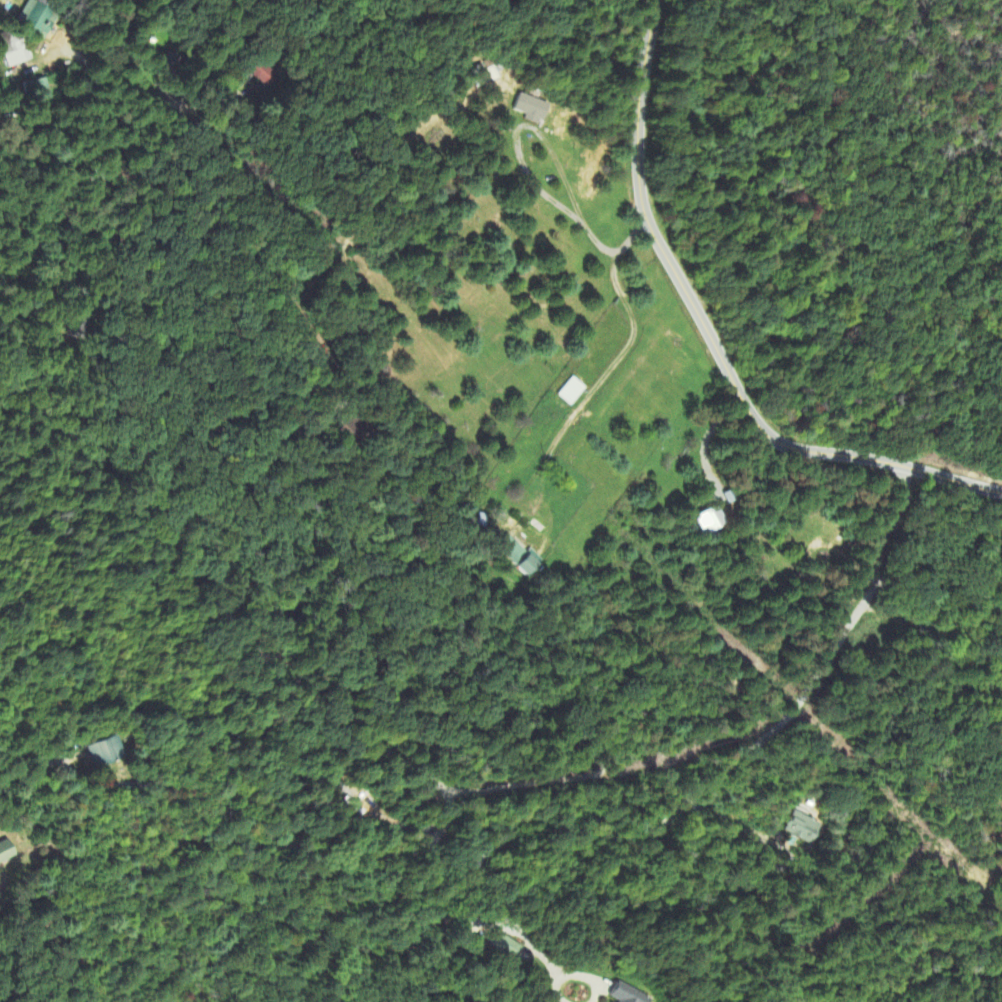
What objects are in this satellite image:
building: (43, 22)
building: (14, 47)
building: (39, 84)
road: (174, 102)
building: (531, 109)
road: (542, 138)
road: (710, 339)
road: (624, 352)
building: (572, 391)
road: (706, 441)
building: (710, 519)
building: (519, 555)
road: (230, 618)
road: (460, 629)
building: (104, 753)
road: (703, 787)
building: (802, 827)
road: (279, 842)
building: (6, 852)
building: (505, 946)
park: (361, 966)
road: (587, 979)
road: (558, 990)
building: (627, 995)

